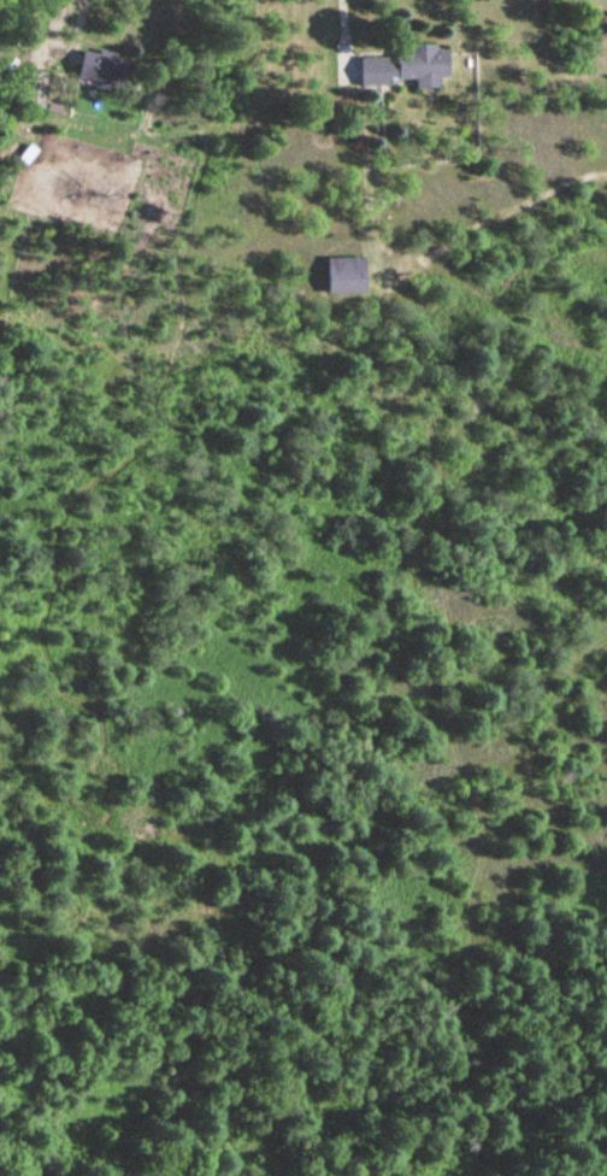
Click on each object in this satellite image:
building: (407, 69)
building: (102, 70)
building: (34, 96)
building: (344, 276)

